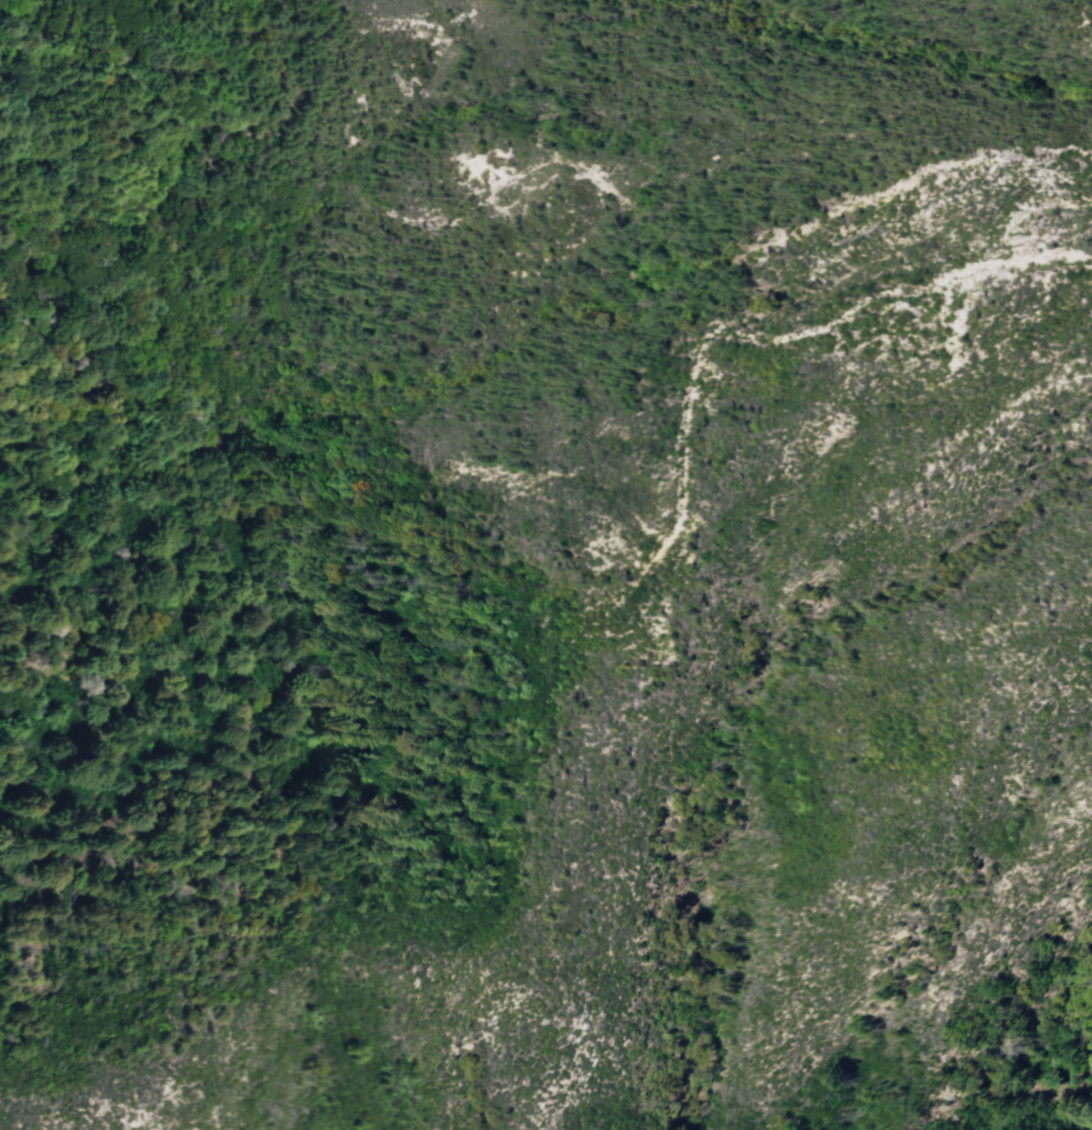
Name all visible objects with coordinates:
road: (1035, 200)
road: (1029, 238)
road: (736, 255)
road: (744, 332)
road: (559, 474)

